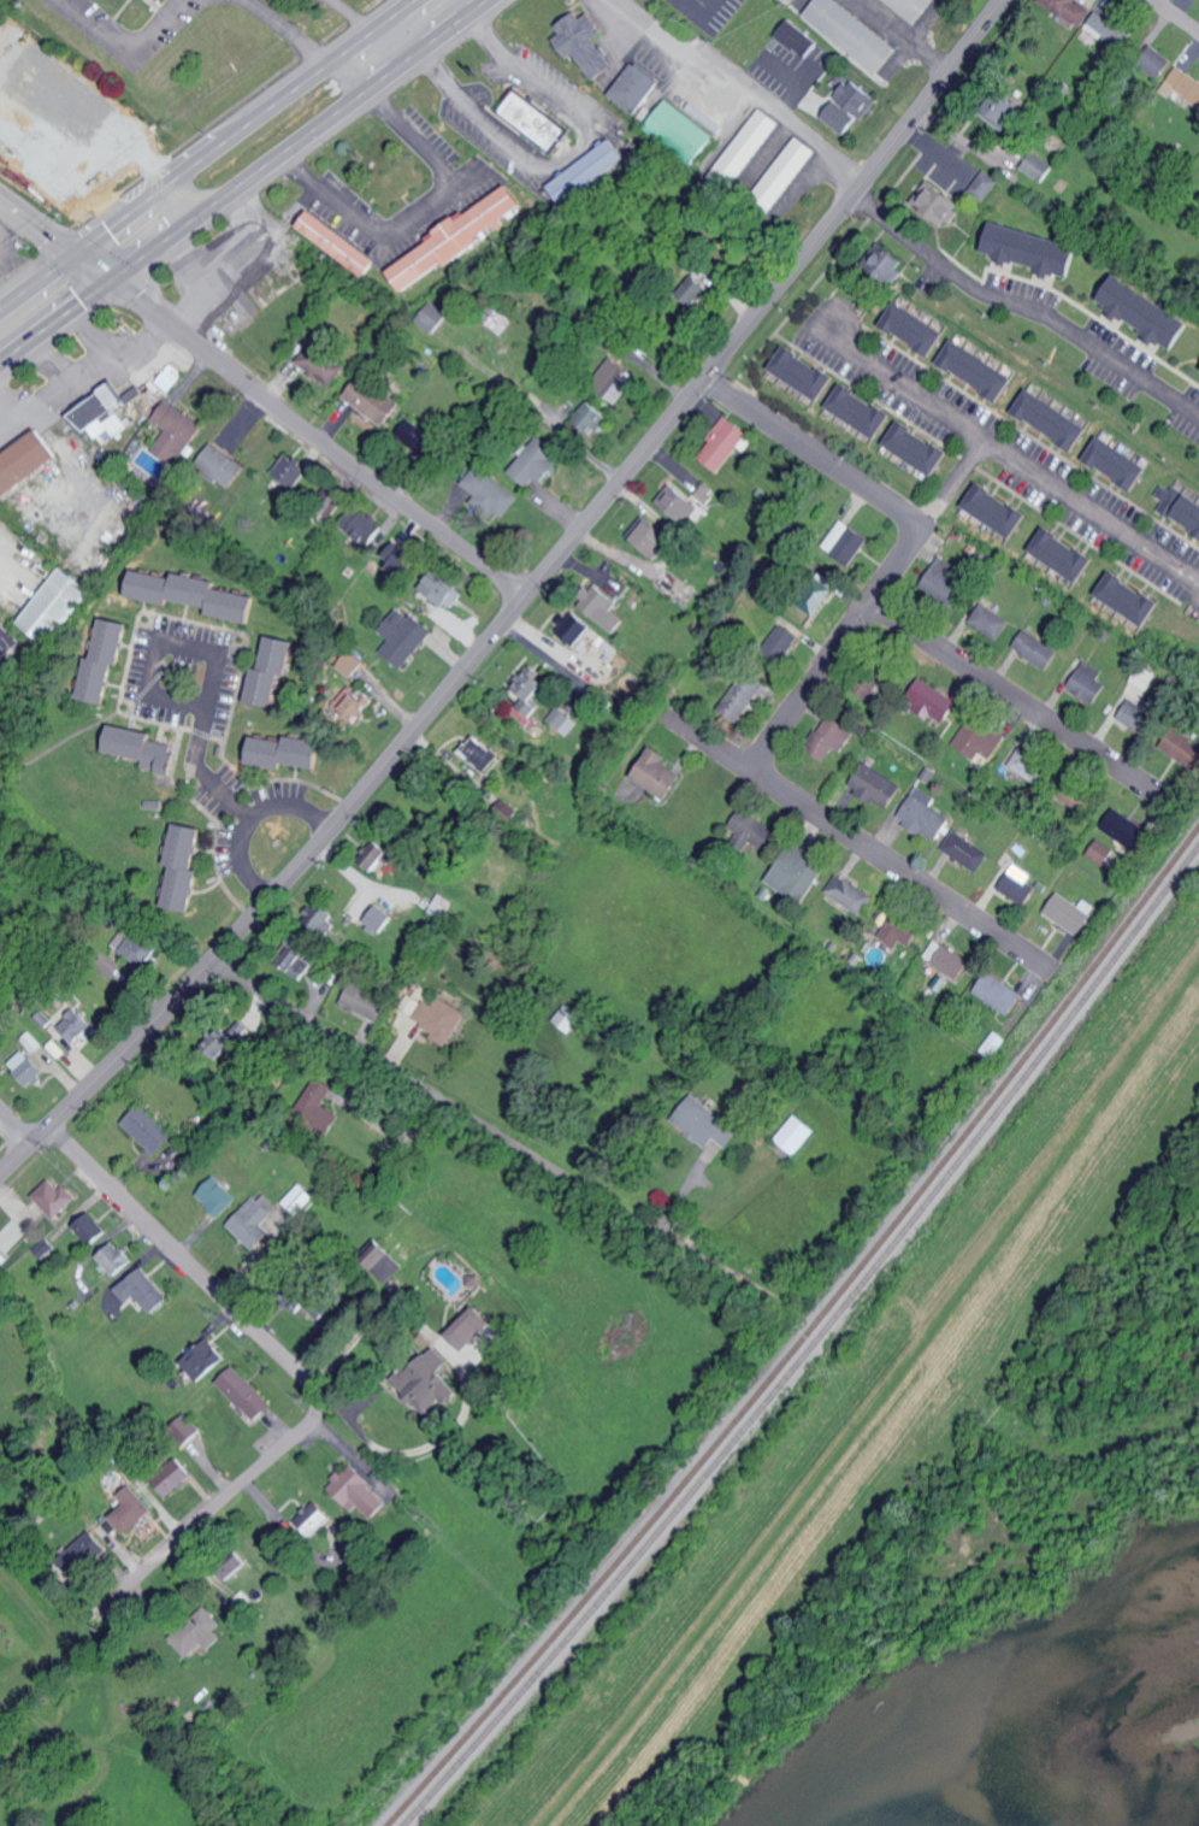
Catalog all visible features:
building: (914, 7)
building: (1069, 10)
road: (1173, 16)
building: (1111, 28)
road: (283, 30)
building: (854, 33)
building: (798, 37)
road: (126, 39)
building: (586, 42)
building: (1157, 60)
building: (636, 87)
building: (1186, 88)
building: (860, 98)
road: (85, 107)
building: (1009, 108)
building: (841, 117)
building: (537, 120)
building: (53, 122)
building: (683, 131)
road: (201, 148)
road: (569, 157)
road: (59, 165)
building: (1039, 166)
road: (113, 170)
building: (788, 170)
building: (587, 171)
road: (246, 183)
building: (985, 184)
building: (940, 201)
road: (414, 213)
road: (900, 225)
building: (457, 237)
building: (341, 242)
building: (1034, 248)
building: (891, 264)
building: (1147, 310)
building: (435, 317)
building: (916, 328)
building: (323, 363)
building: (979, 369)
building: (805, 372)
building: (170, 377)
building: (615, 381)
building: (371, 401)
road: (262, 402)
building: (862, 411)
building: (592, 416)
road: (538, 417)
building: (1055, 419)
building: (177, 431)
building: (419, 440)
building: (723, 443)
building: (919, 448)
road: (810, 454)
road: (1012, 458)
building: (25, 461)
building: (536, 463)
building: (1120, 463)
building: (223, 465)
building: (289, 476)
road: (947, 482)
building: (490, 490)
building: (687, 502)
building: (1177, 503)
building: (1002, 512)
building: (364, 528)
building: (652, 536)
building: (846, 542)
building: (1065, 554)
building: (403, 564)
building: (945, 584)
building: (445, 590)
building: (815, 596)
building: (1132, 597)
building: (57, 605)
road: (520, 605)
building: (603, 606)
building: (991, 620)
building: (574, 626)
building: (403, 636)
building: (784, 640)
building: (1036, 648)
road: (833, 652)
building: (105, 660)
building: (350, 664)
building: (272, 673)
building: (1089, 682)
building: (531, 690)
building: (745, 697)
road: (1012, 699)
building: (934, 701)
building: (354, 705)
road: (203, 708)
building: (563, 720)
building: (832, 737)
building: (980, 737)
building: (141, 747)
building: (285, 752)
building: (480, 753)
building: (1027, 765)
building: (658, 773)
building: (878, 785)
building: (926, 814)
building: (752, 830)
building: (1126, 830)
road: (855, 840)
building: (967, 850)
building: (1100, 852)
building: (378, 855)
road: (240, 864)
building: (184, 867)
building: (798, 872)
building: (1020, 884)
building: (850, 894)
building: (1070, 914)
building: (380, 918)
building: (900, 930)
building: (134, 947)
building: (947, 959)
building: (1000, 992)
building: (368, 1001)
building: (567, 1018)
building: (441, 1019)
building: (75, 1024)
building: (225, 1042)
building: (31, 1043)
building: (26, 1067)
building: (321, 1106)
road: (461, 1107)
building: (709, 1125)
building: (147, 1130)
building: (797, 1135)
road: (11, 1142)
building: (218, 1196)
building: (54, 1197)
building: (300, 1198)
building: (259, 1223)
building: (89, 1229)
building: (116, 1259)
road: (184, 1260)
building: (142, 1290)
building: (471, 1329)
railway: (804, 1335)
railway: (809, 1343)
building: (205, 1360)
building: (430, 1382)
building: (246, 1392)
road: (418, 1451)
road: (349, 1454)
road: (929, 1474)
building: (177, 1482)
building: (359, 1492)
road: (215, 1504)
building: (131, 1510)
building: (324, 1524)
building: (199, 1632)

